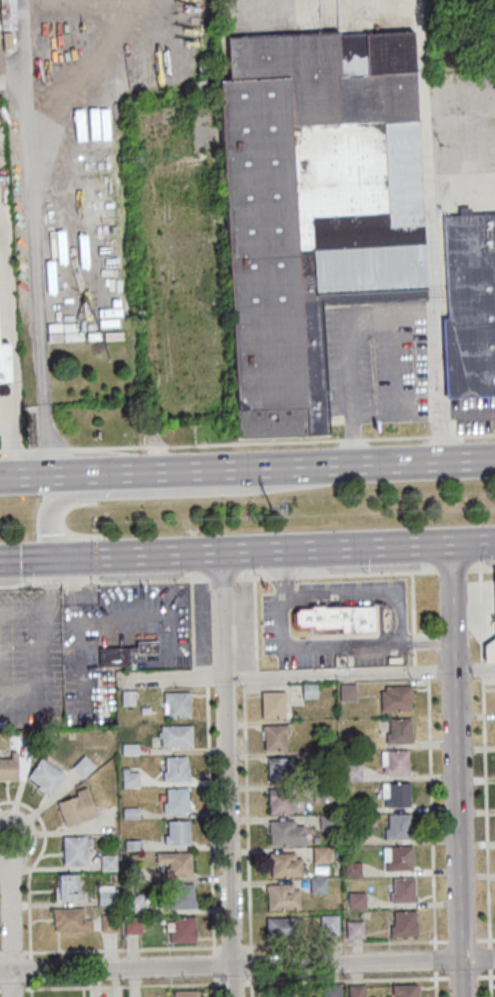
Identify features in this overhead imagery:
building: (8, 15)
road: (30, 57)
road: (98, 67)
road: (16, 90)
building: (312, 207)
road: (37, 259)
building: (469, 305)
road: (390, 328)
building: (5, 363)
road: (473, 437)
road: (45, 439)
road: (440, 439)
road: (395, 440)
road: (351, 442)
road: (253, 445)
road: (156, 449)
road: (107, 450)
road: (51, 451)
road: (10, 452)
road: (27, 452)
road: (315, 464)
road: (68, 474)
road: (174, 491)
power tower: (273, 513)
road: (472, 542)
road: (224, 551)
traffic signals: (48, 558)
road: (481, 567)
road: (452, 572)
road: (281, 573)
road: (369, 573)
road: (285, 575)
road: (252, 577)
road: (221, 578)
road: (149, 580)
road: (72, 581)
road: (77, 582)
road: (51, 583)
road: (21, 584)
parking lot: (351, 587)
road: (359, 595)
road: (412, 602)
building: (493, 602)
road: (24, 613)
road: (480, 615)
road: (146, 617)
building: (336, 618)
road: (192, 622)
road: (253, 623)
road: (49, 628)
parking lot: (273, 629)
street lamp: (25, 638)
road: (414, 640)
road: (419, 641)
road: (314, 646)
parking lot: (175, 652)
road: (415, 656)
parking lot: (31, 657)
building: (115, 657)
road: (84, 663)
road: (481, 670)
road: (420, 673)
road: (307, 675)
road: (199, 677)
road: (250, 677)
building: (309, 689)
building: (348, 692)
building: (127, 696)
building: (397, 697)
road: (26, 700)
building: (177, 703)
building: (274, 704)
building: (399, 730)
building: (177, 735)
building: (276, 736)
building: (345, 736)
building: (129, 747)
building: (325, 755)
building: (396, 761)
building: (84, 766)
building: (176, 768)
building: (279, 768)
building: (9, 769)
road: (457, 769)
building: (353, 772)
road: (226, 774)
building: (45, 775)
building: (131, 777)
building: (321, 791)
building: (396, 794)
building: (176, 800)
building: (280, 801)
building: (351, 806)
building: (76, 807)
building: (130, 811)
road: (247, 817)
road: (211, 819)
building: (327, 821)
building: (397, 826)
building: (178, 832)
building: (288, 832)
building: (351, 836)
road: (486, 838)
road: (432, 839)
building: (132, 843)
building: (75, 852)
building: (321, 854)
building: (399, 858)
building: (108, 861)
building: (175, 862)
building: (286, 864)
road: (33, 867)
building: (353, 869)
building: (133, 873)
building: (68, 886)
building: (319, 886)
building: (403, 889)
building: (106, 895)
building: (182, 896)
building: (284, 896)
building: (357, 899)
building: (133, 902)
road: (9, 906)
building: (71, 919)
building: (109, 921)
building: (404, 923)
building: (329, 924)
building: (134, 925)
building: (282, 925)
building: (183, 928)
building: (356, 928)
road: (369, 943)
road: (232, 946)
road: (122, 950)
road: (12, 954)
road: (0, 955)
road: (250, 963)
road: (215, 965)
road: (247, 966)
road: (30, 973)
road: (370, 980)
road: (233, 982)
road: (12, 985)
road: (122, 987)
road: (216, 987)
road: (251, 987)
road: (30, 990)
building: (329, 990)
building: (403, 990)
road: (13, 991)
building: (354, 991)
road: (1, 992)
building: (279, 992)
building: (183, 994)

